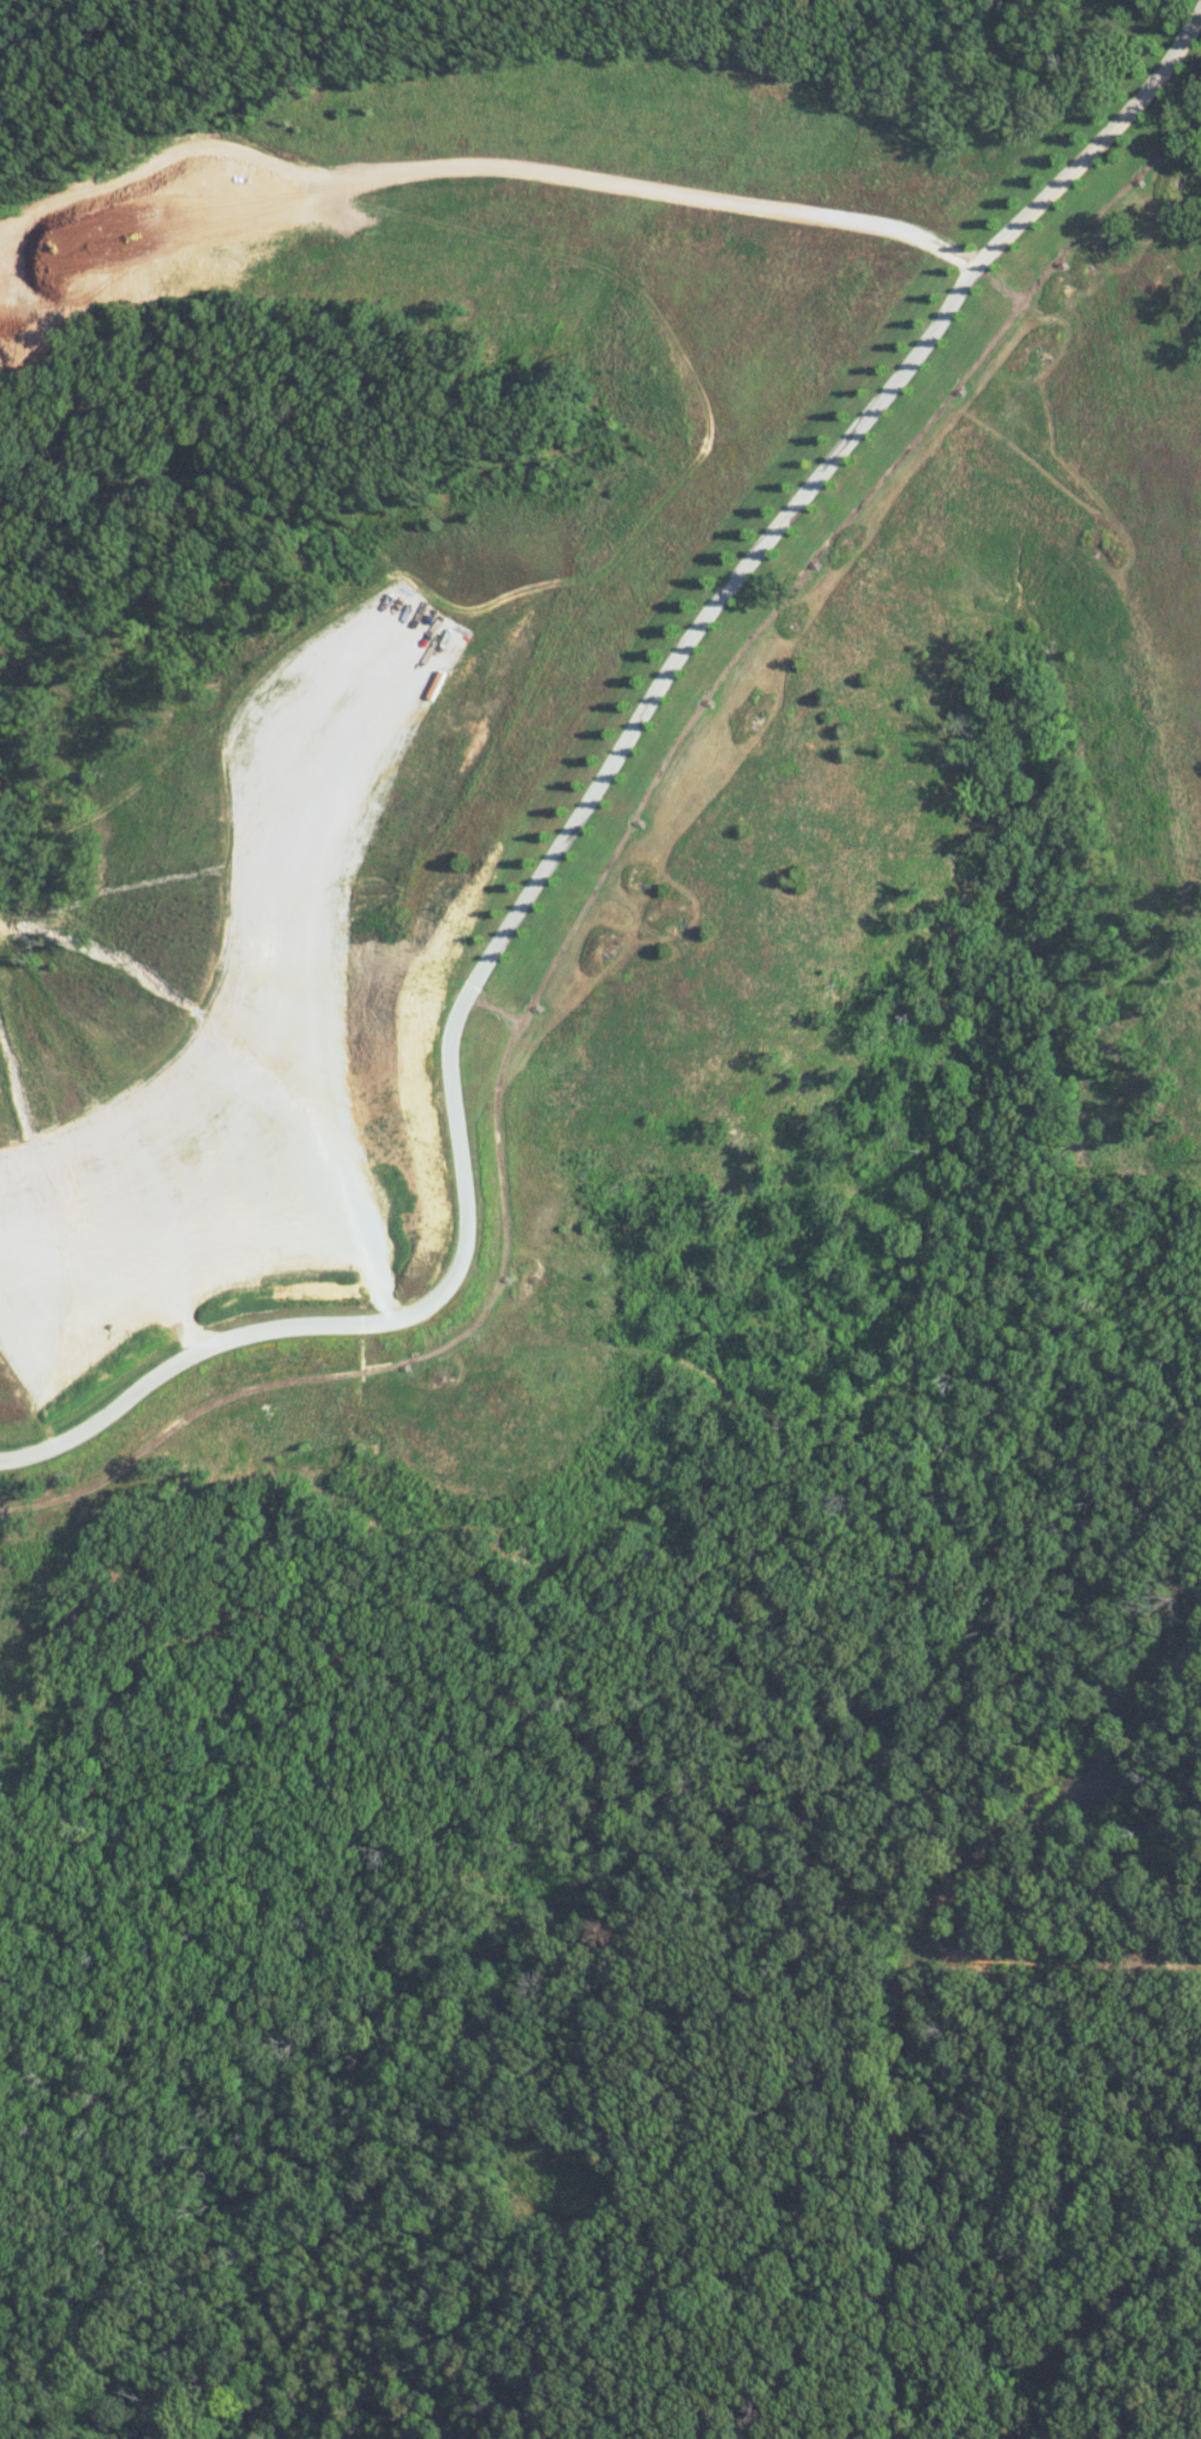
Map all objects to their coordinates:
road: (580, 809)
road: (1058, 1764)
road: (1058, 1954)
road: (902, 2179)

